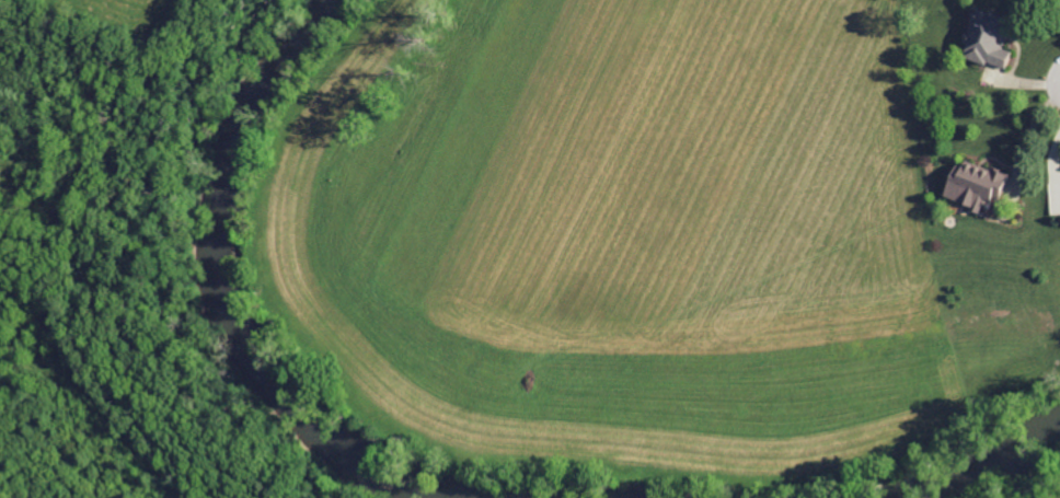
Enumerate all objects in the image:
building: (984, 38)
road: (1033, 130)
building: (970, 184)
river: (226, 276)
river: (970, 468)

